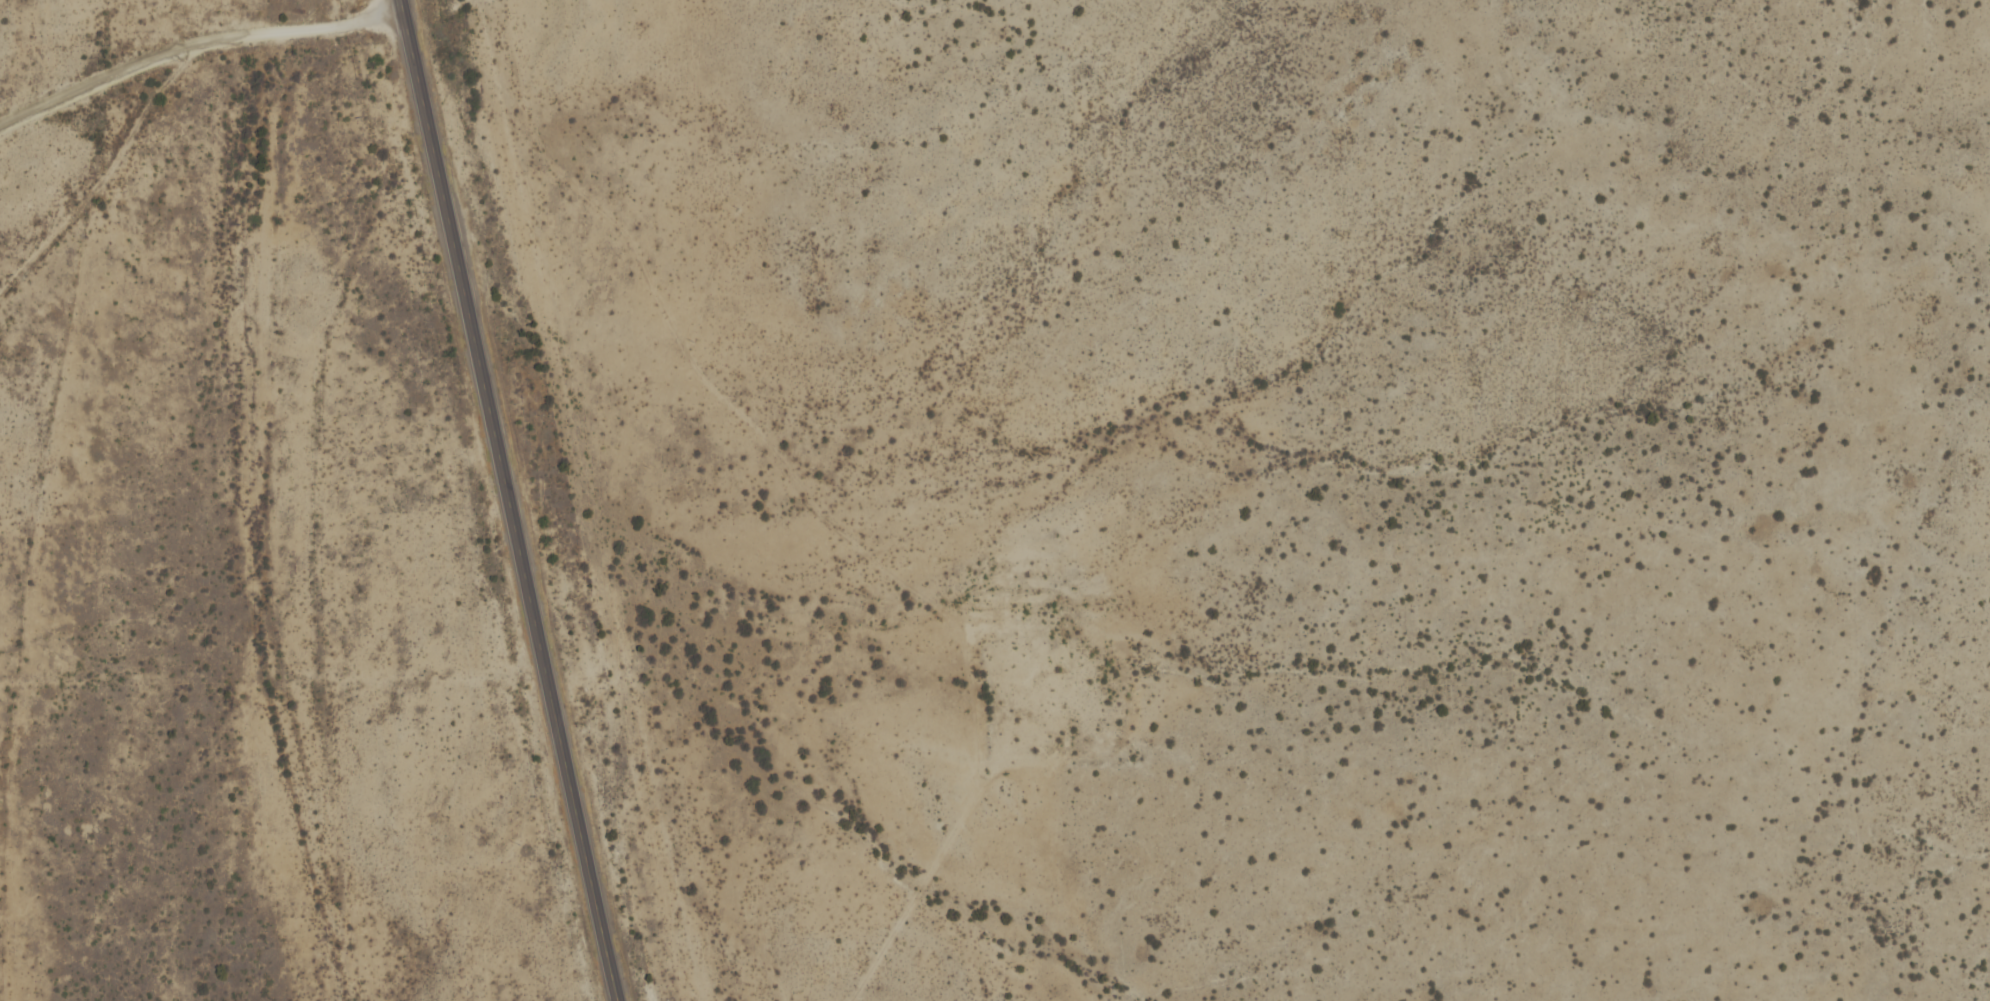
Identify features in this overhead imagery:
road: (185, 61)
road: (510, 500)
road: (933, 853)

